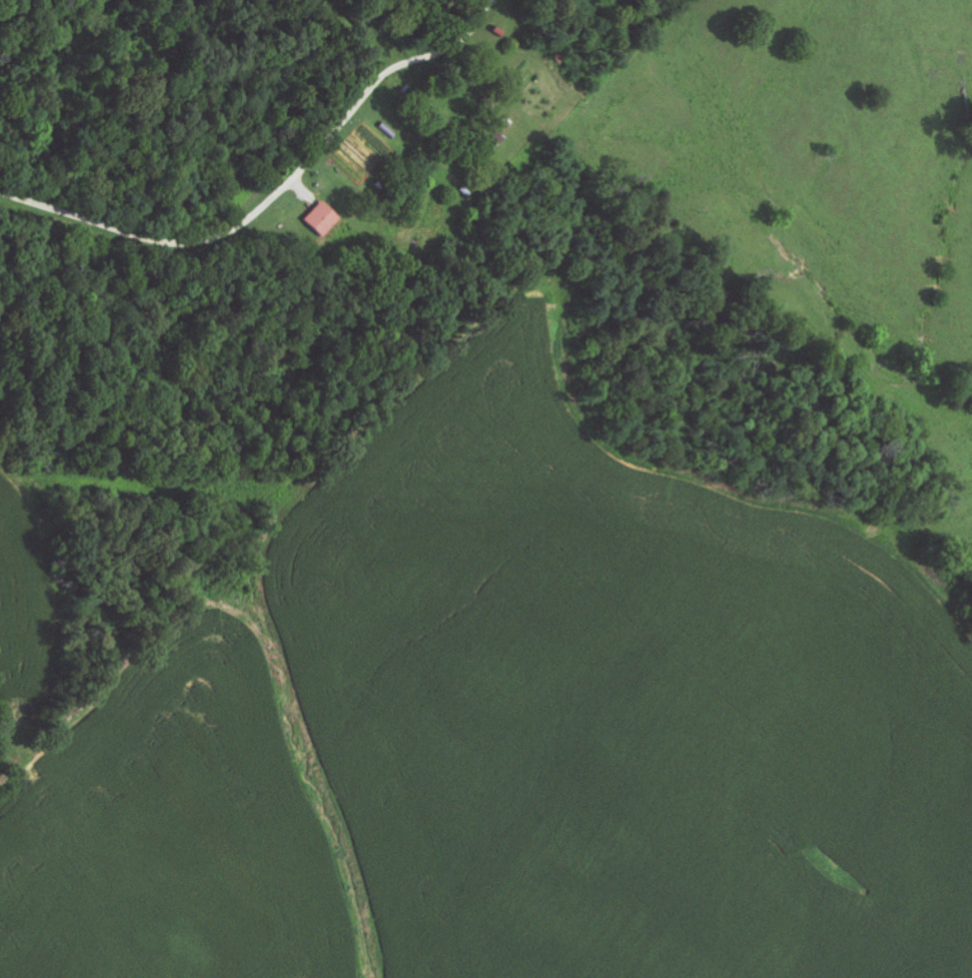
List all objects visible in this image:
road: (818, 98)
building: (324, 219)

